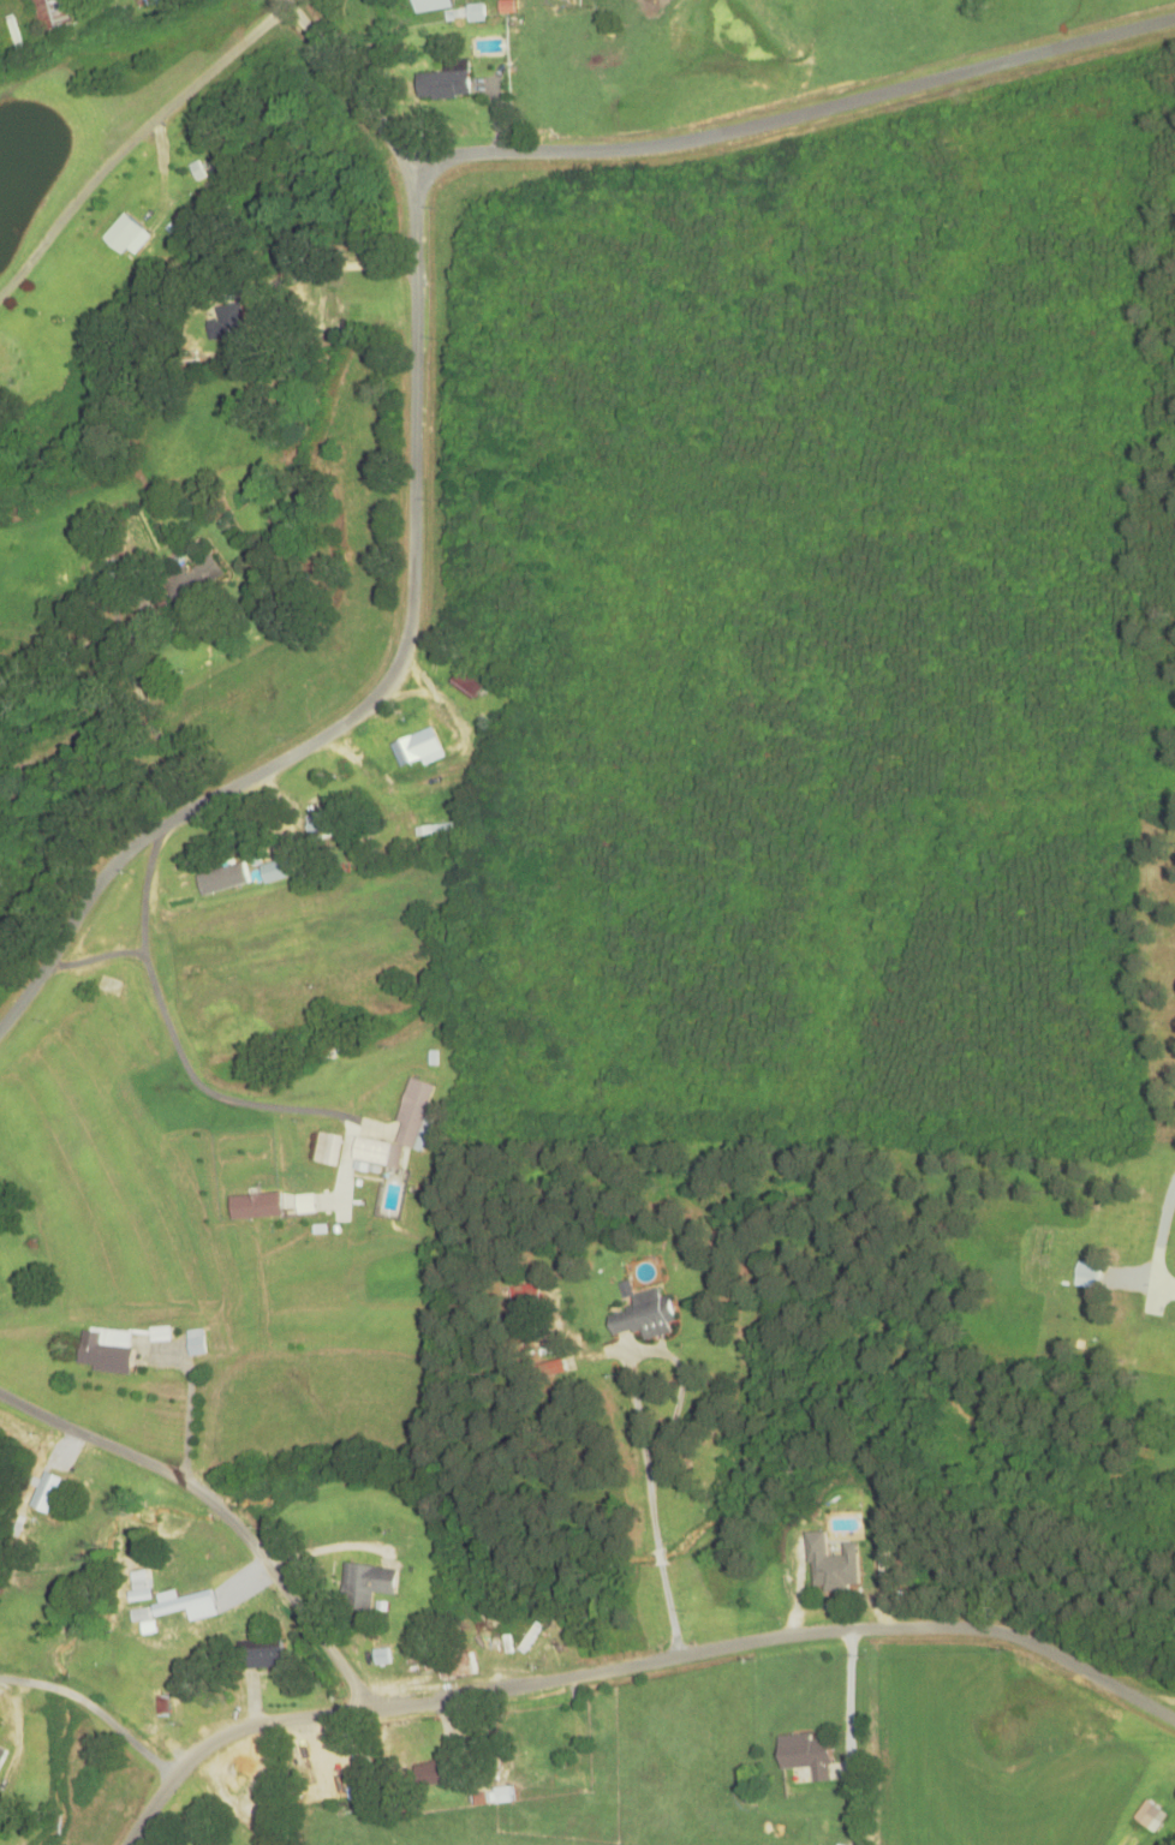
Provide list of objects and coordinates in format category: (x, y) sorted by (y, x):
building: (475, 13)
building: (595, 42)
building: (442, 84)
road: (358, 86)
road: (804, 114)
road: (132, 141)
building: (121, 234)
building: (226, 323)
building: (192, 579)
road: (381, 686)
building: (416, 750)
building: (318, 826)
building: (274, 871)
building: (220, 879)
building: (399, 1130)
building: (327, 1150)
building: (643, 1316)
building: (193, 1343)
building: (102, 1351)
building: (42, 1493)
road: (221, 1506)
building: (364, 1587)
building: (139, 1592)
building: (184, 1602)
building: (139, 1616)
building: (260, 1655)
road: (634, 1665)
building: (455, 1667)
road: (89, 1719)
building: (0, 1745)
building: (804, 1756)
building: (428, 1775)
building: (1149, 1817)

